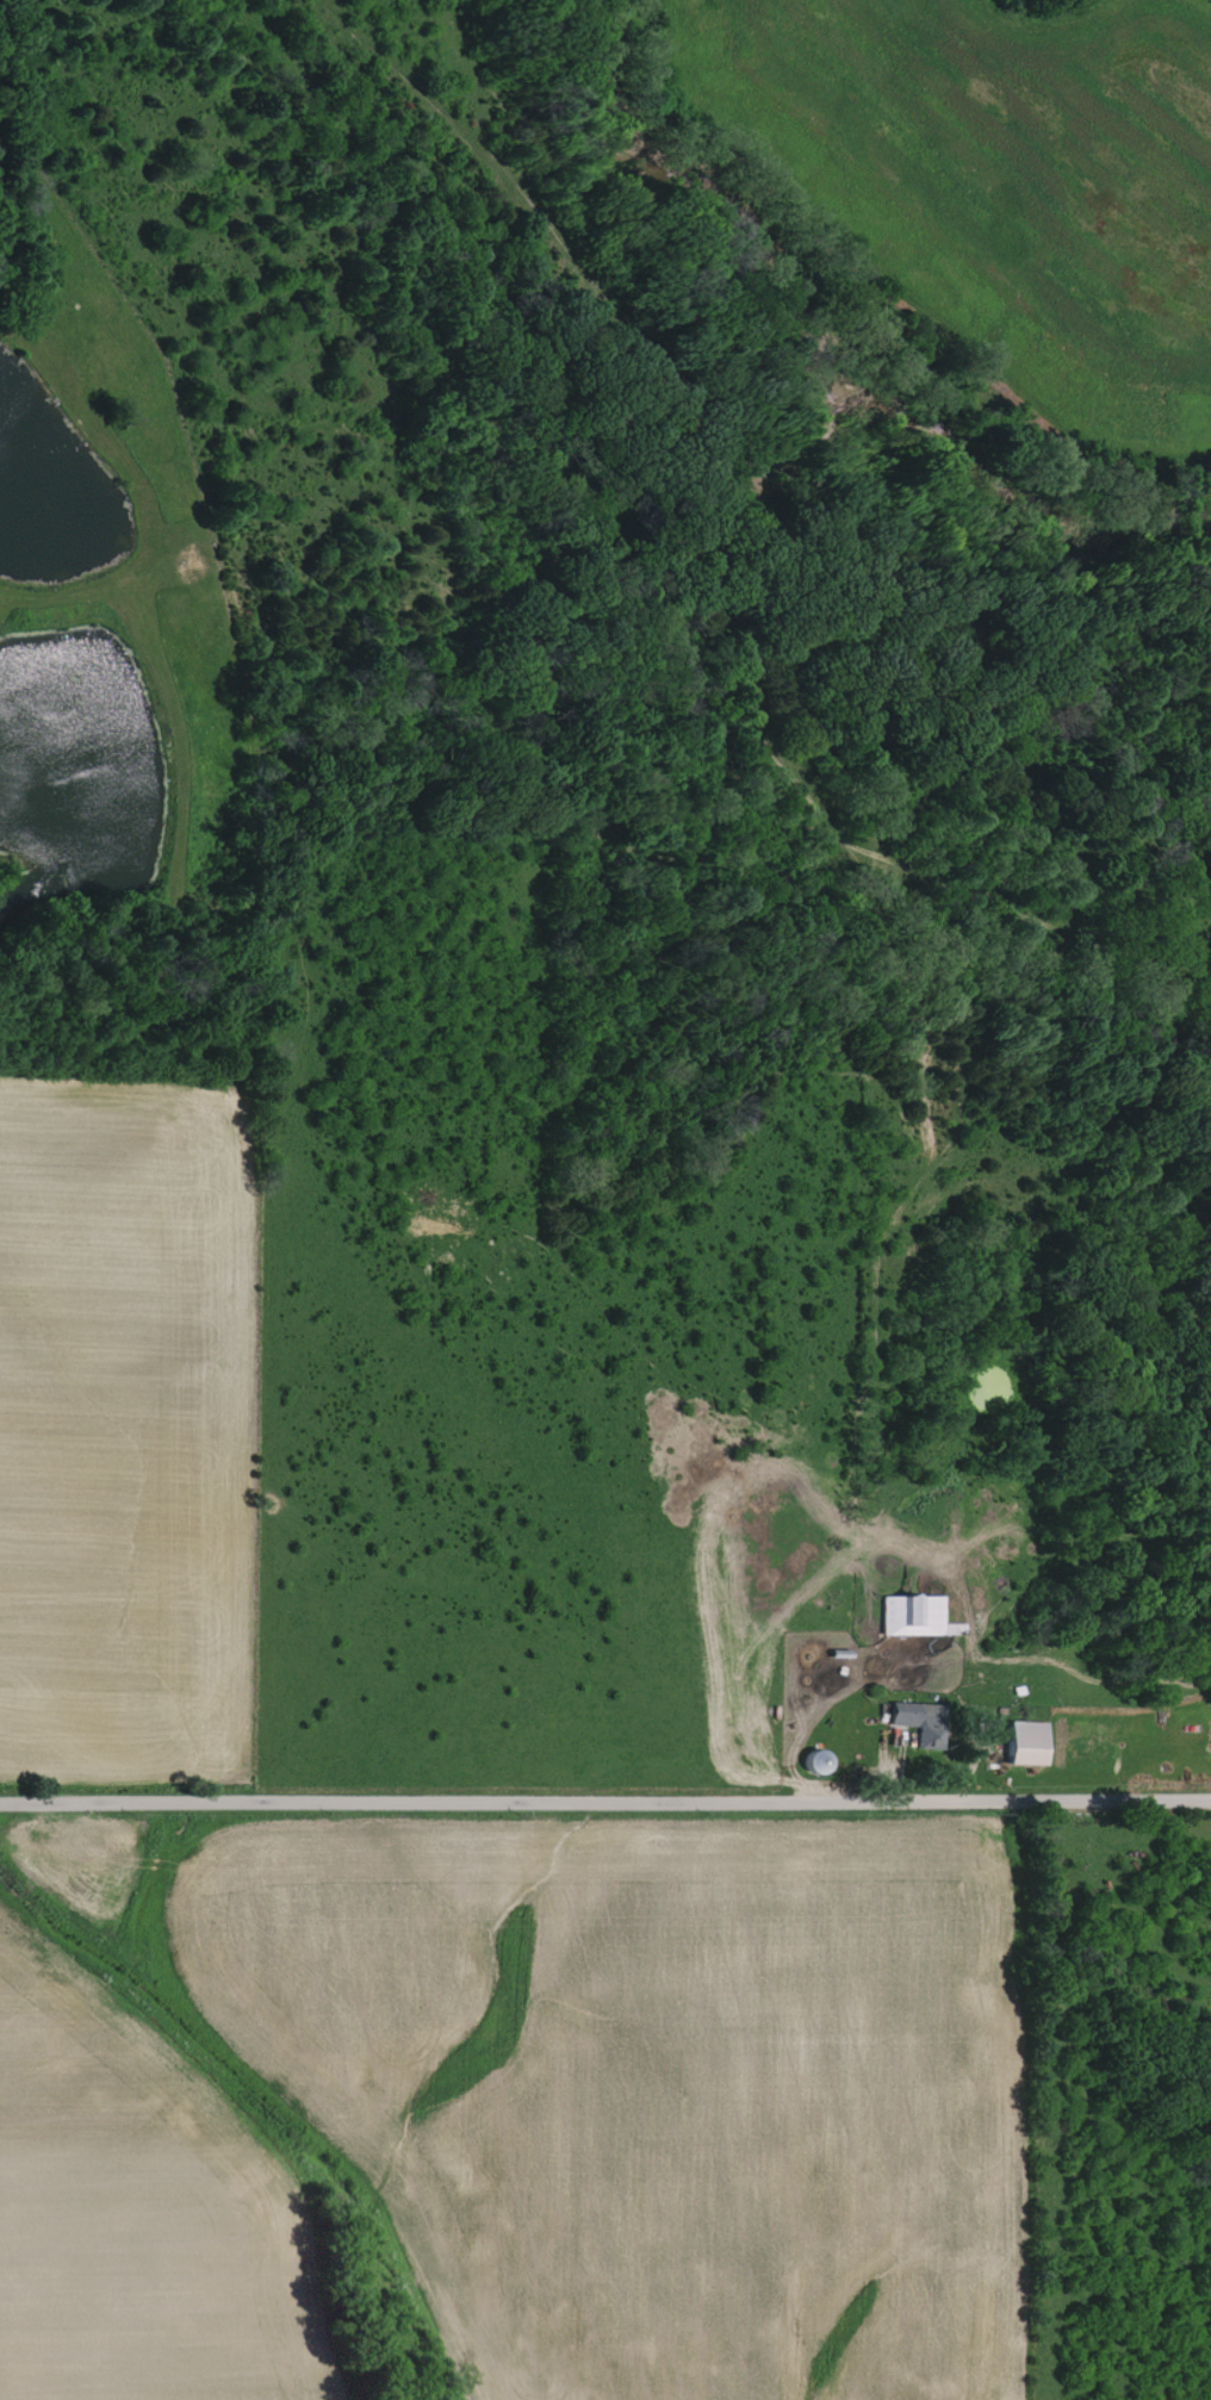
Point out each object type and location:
building: (912, 1616)
building: (919, 1721)
building: (1024, 1741)
building: (813, 1761)
road: (605, 1801)

